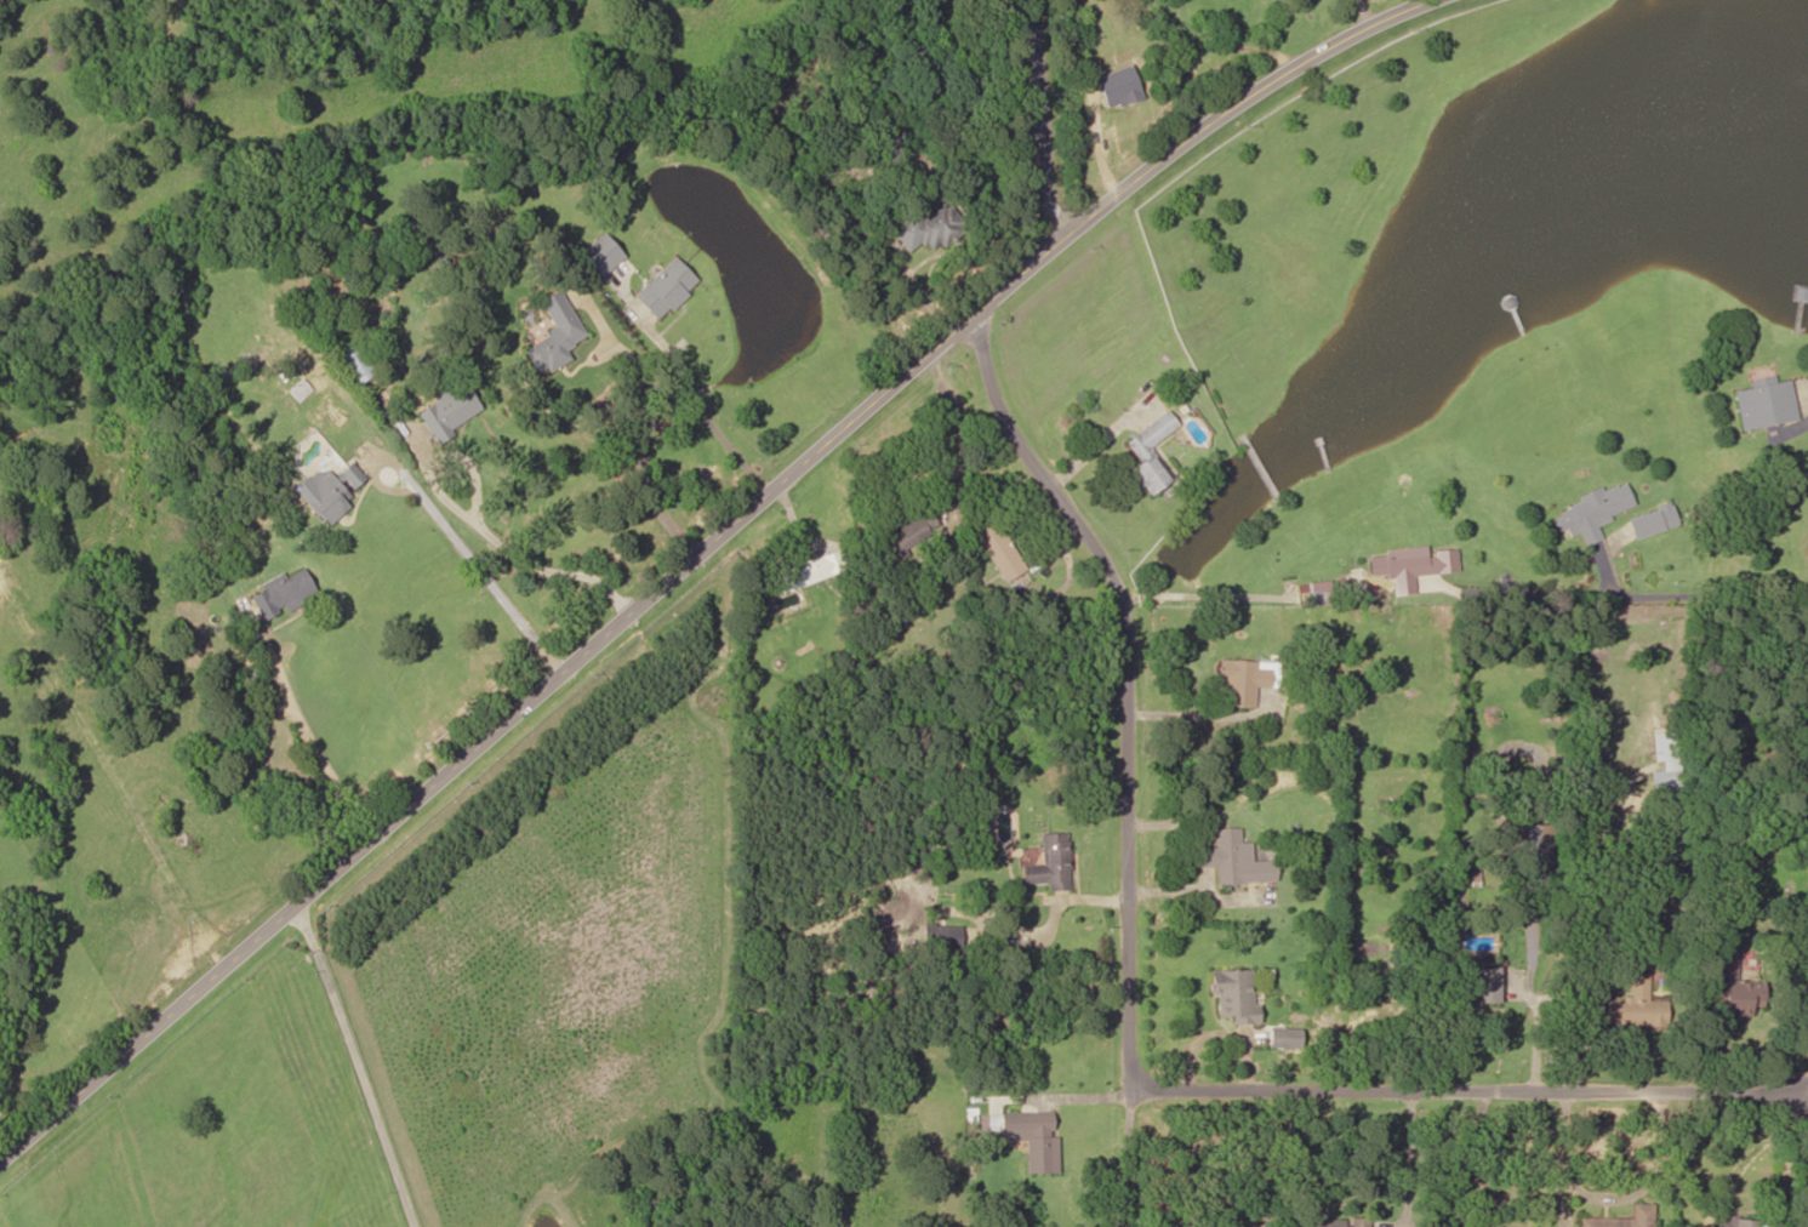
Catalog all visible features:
road: (1057, 107)
building: (926, 226)
building: (600, 252)
building: (665, 287)
building: (553, 333)
building: (355, 361)
building: (1763, 403)
building: (447, 409)
building: (1151, 452)
building: (329, 490)
building: (1591, 509)
building: (1661, 513)
building: (909, 533)
road: (690, 544)
building: (998, 547)
building: (1409, 564)
building: (808, 570)
road: (1627, 572)
building: (281, 592)
building: (1239, 681)
building: (1538, 844)
building: (1233, 858)
building: (1048, 862)
road: (1124, 917)
building: (1478, 985)
building: (1732, 988)
building: (1233, 994)
building: (1633, 1003)
building: (1028, 1135)
building: (1621, 1219)
building: (1333, 1222)
building: (1734, 1222)

